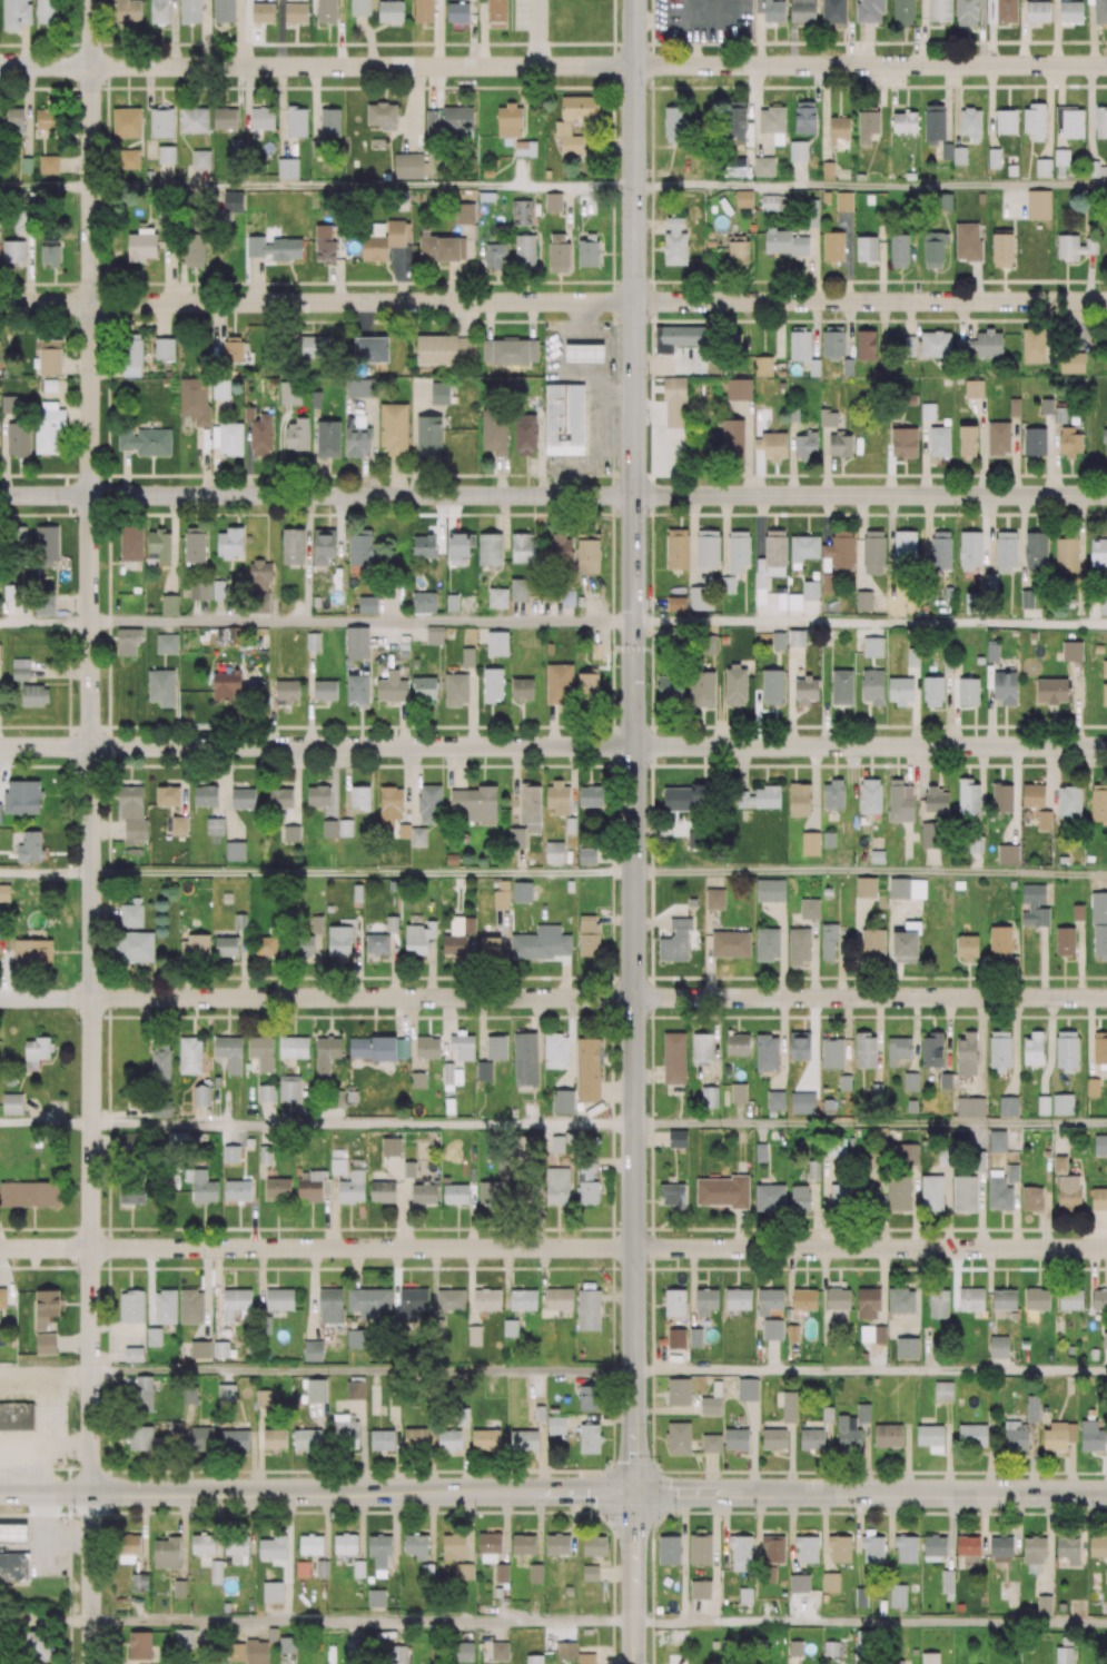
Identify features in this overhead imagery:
street lamp: (750, 39)
street lamp: (655, 40)
road: (870, 65)
road: (317, 66)
street lamp: (646, 91)
road: (870, 185)
road: (363, 187)
road: (46, 188)
road: (634, 247)
road: (870, 300)
road: (316, 301)
street lamp: (648, 324)
building: (587, 355)
street lamp: (615, 378)
road: (605, 393)
road: (620, 394)
building: (566, 419)
street lamp: (612, 476)
road: (317, 495)
road: (870, 495)
road: (89, 498)
street lamp: (61, 507)
street lamp: (320, 507)
street lamp: (957, 516)
street lamp: (649, 517)
traffic signals: (634, 610)
road: (45, 622)
road: (362, 622)
road: (870, 623)
traffic signals: (633, 681)
road: (316, 746)
road: (870, 746)
road: (870, 872)
road: (46, 873)
road: (363, 873)
road: (633, 950)
road: (46, 998)
road: (363, 998)
road: (870, 998)
road: (363, 1125)
road: (870, 1125)
road: (46, 1126)
road: (91, 1245)
road: (316, 1248)
road: (870, 1248)
road: (871, 1370)
road: (363, 1371)
road: (46, 1373)
building: (17, 1417)
road: (635, 1449)
street lamp: (80, 1462)
street lamp: (607, 1463)
road: (553, 1470)
road: (254, 1493)
road: (571, 1493)
traffic signals: (634, 1493)
road: (700, 1493)
road: (936, 1493)
street lamp: (71, 1514)
street lamp: (192, 1514)
street lamp: (480, 1515)
street lamp: (672, 1515)
building: (13, 1534)
road: (634, 1557)
building: (14, 1567)
road: (91, 1578)
road: (363, 1621)
road: (870, 1623)
road: (634, 1643)

